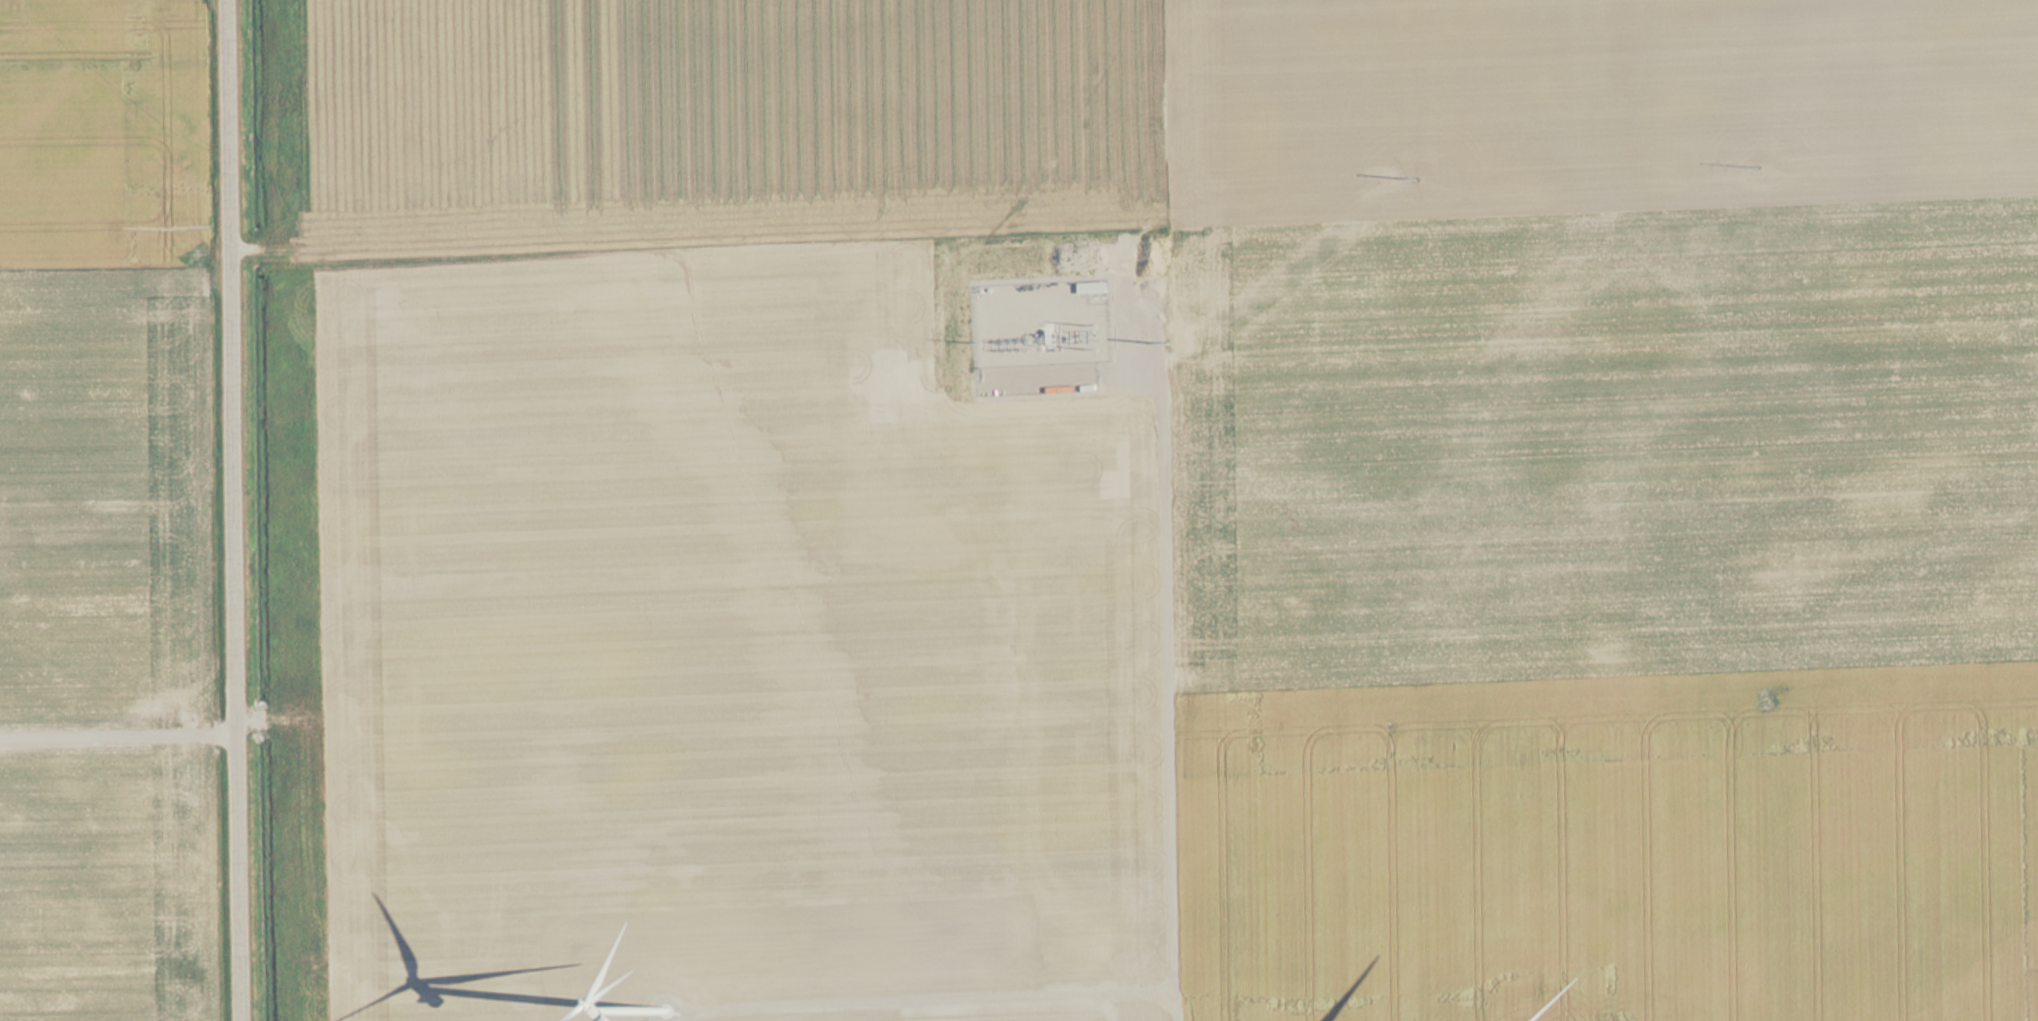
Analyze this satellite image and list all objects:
power substation: (1039, 321)
road: (245, 510)
road: (1165, 598)
wind turbine: (651, 1006)

